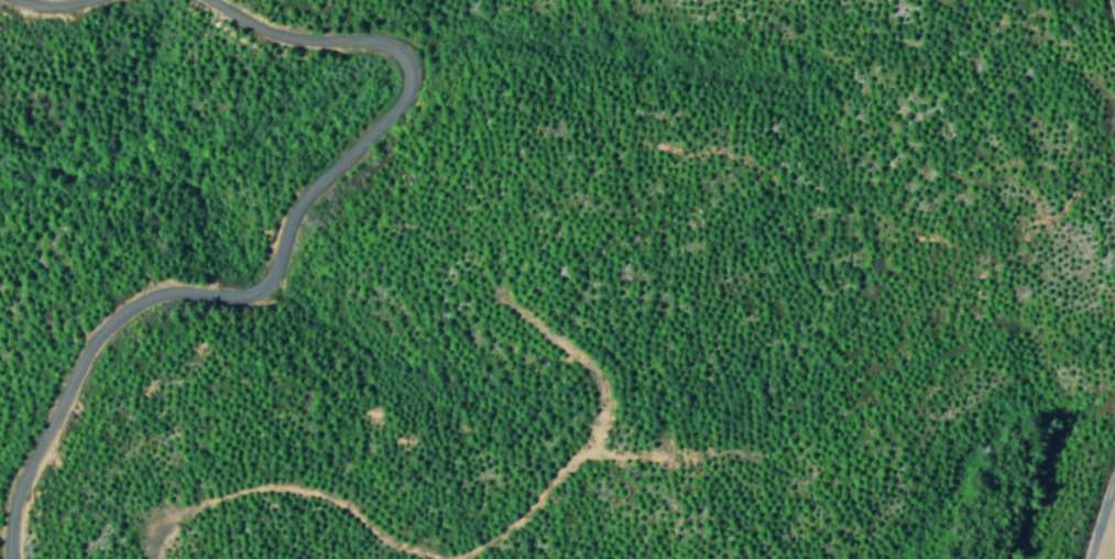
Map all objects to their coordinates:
road: (1098, 514)

